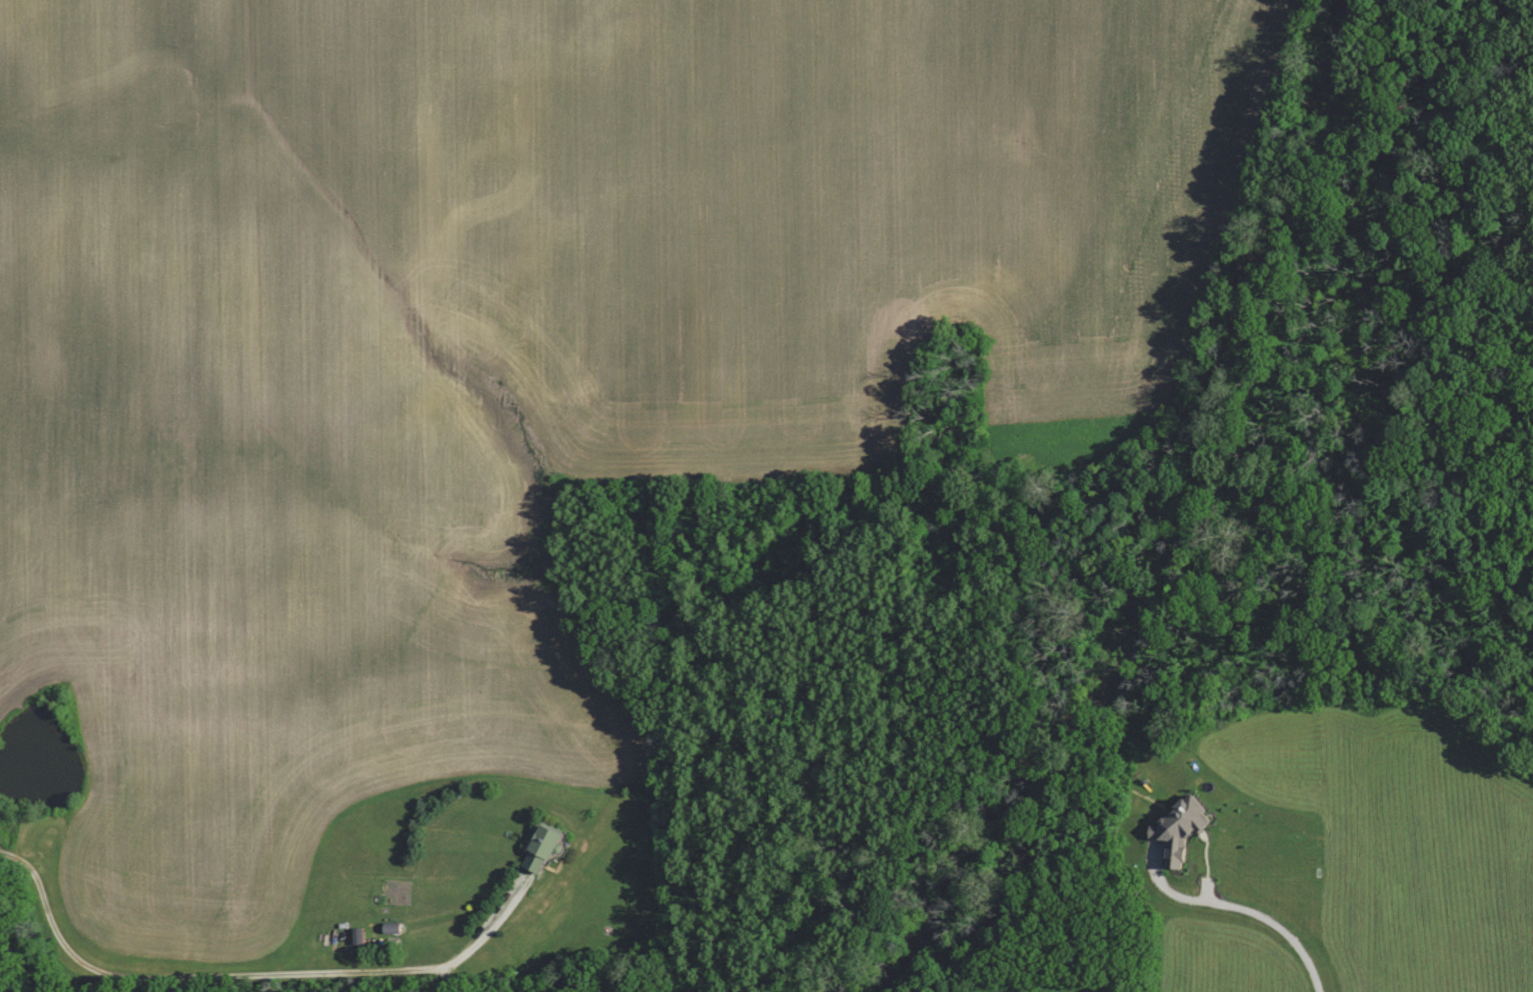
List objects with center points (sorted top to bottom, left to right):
building: (1176, 825)
building: (537, 847)
road: (1251, 908)
road: (234, 971)

